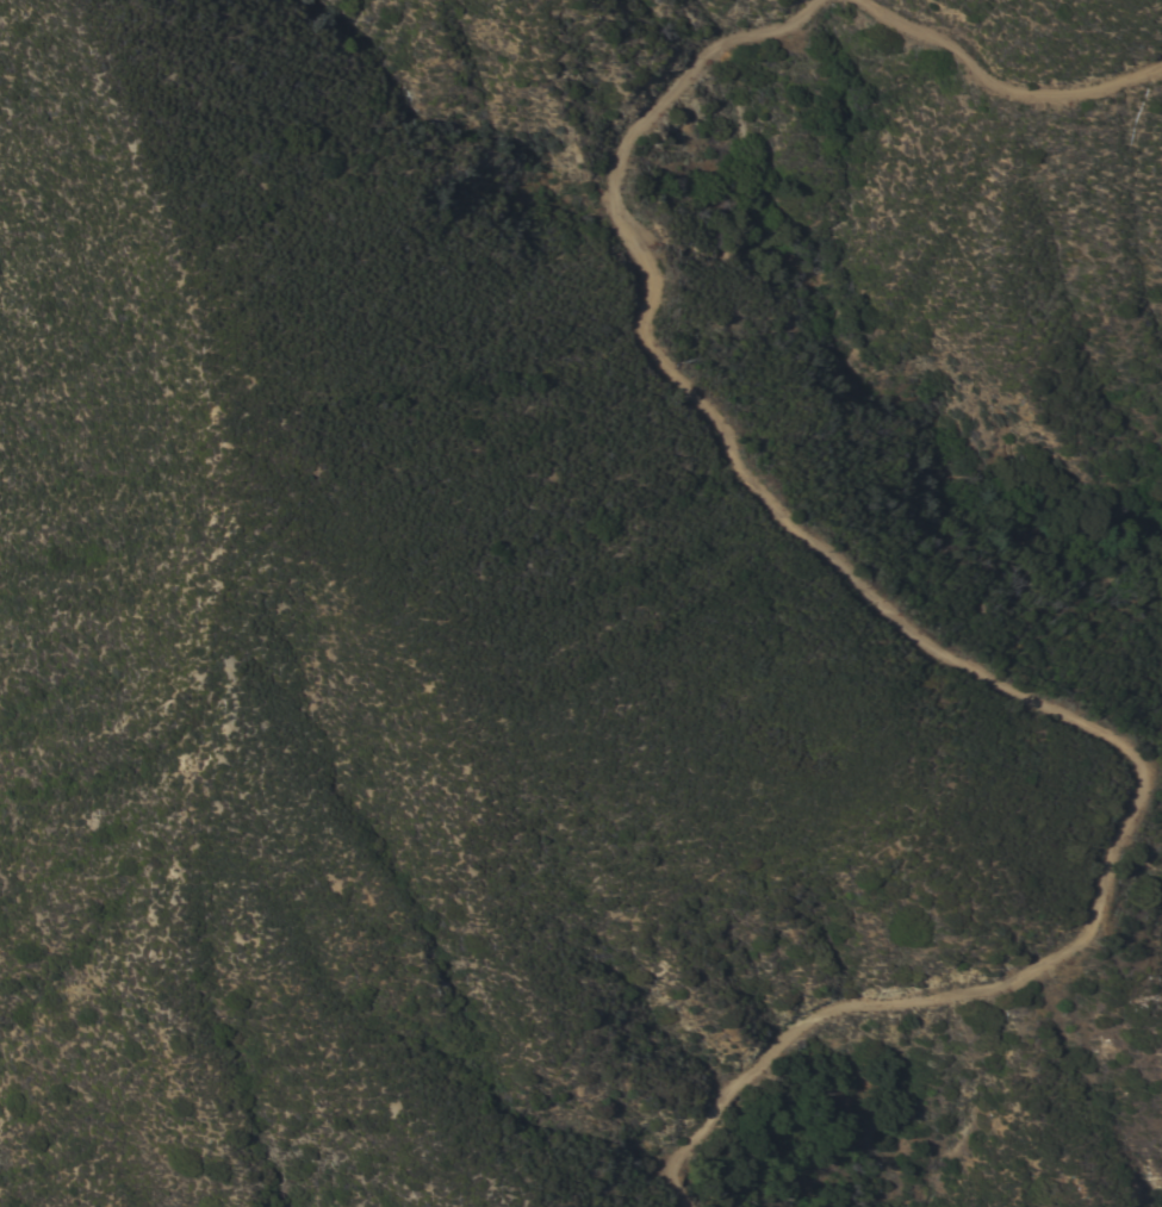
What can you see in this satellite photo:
road: (1001, 81)
road: (775, 484)
road: (835, 1012)

